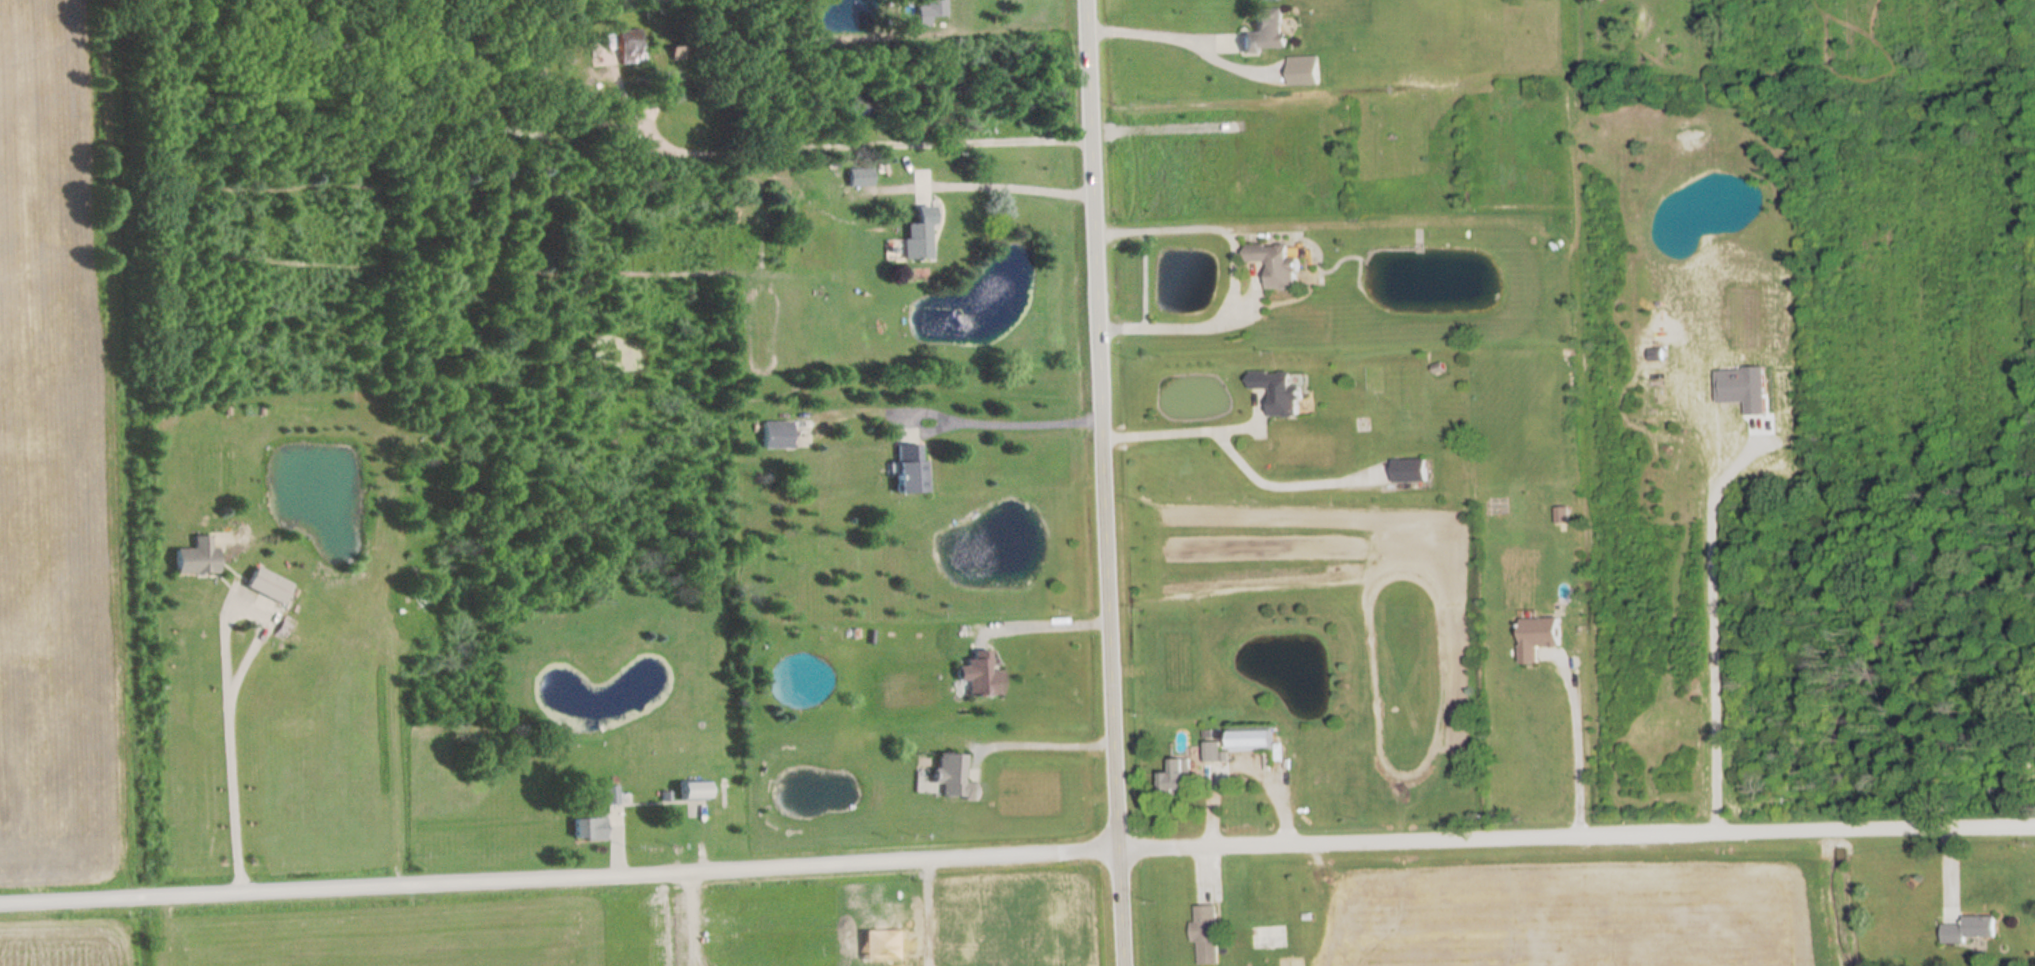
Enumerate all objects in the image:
building: (926, 11)
building: (1265, 31)
road: (1155, 36)
building: (628, 46)
road: (836, 149)
building: (858, 178)
road: (1006, 186)
building: (916, 236)
building: (1276, 263)
road: (1233, 272)
building: (1277, 392)
road: (1008, 420)
building: (774, 435)
road: (1231, 452)
building: (908, 468)
building: (1409, 473)
road: (1101, 483)
building: (192, 558)
building: (264, 586)
road: (1721, 625)
building: (1537, 638)
building: (976, 676)
road: (224, 691)
road: (1050, 739)
building: (1250, 739)
building: (1211, 752)
road: (1576, 753)
road: (1237, 761)
building: (1177, 777)
building: (950, 779)
building: (690, 791)
building: (588, 827)
road: (1017, 854)
road: (923, 914)
road: (666, 920)
building: (1967, 929)
building: (1205, 933)
road: (968, 960)

